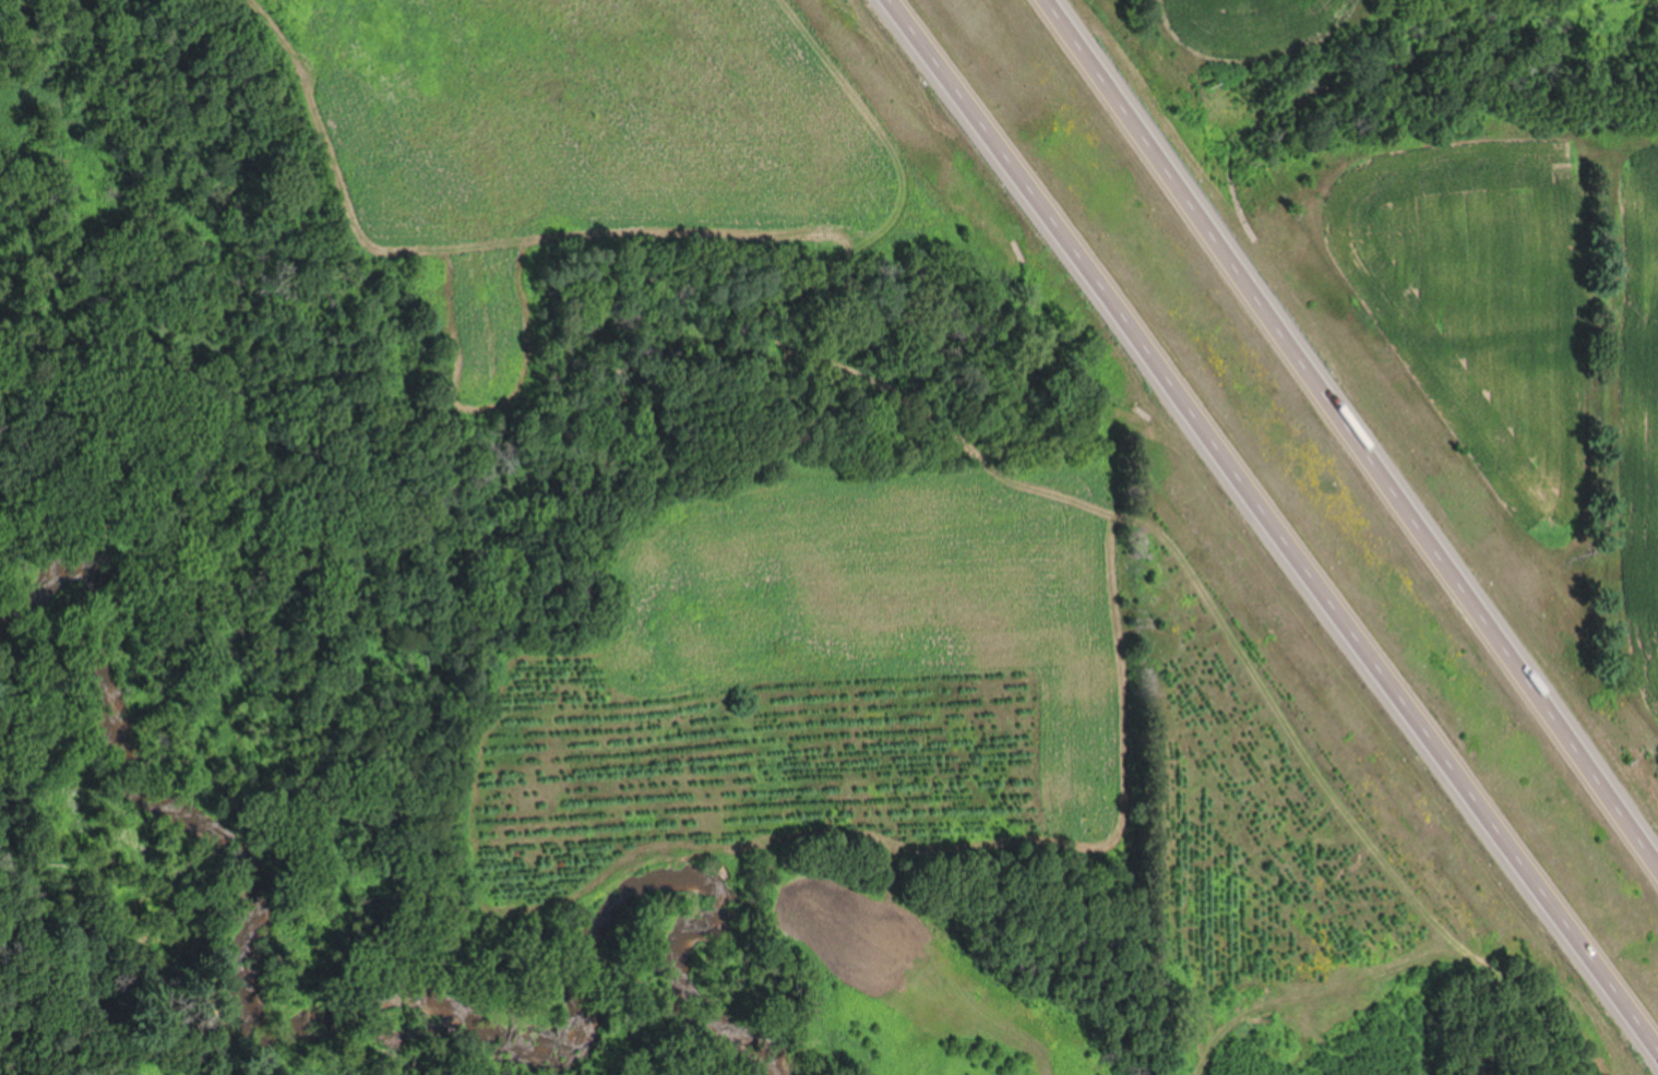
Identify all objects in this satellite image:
road: (1350, 433)
road: (1281, 515)

